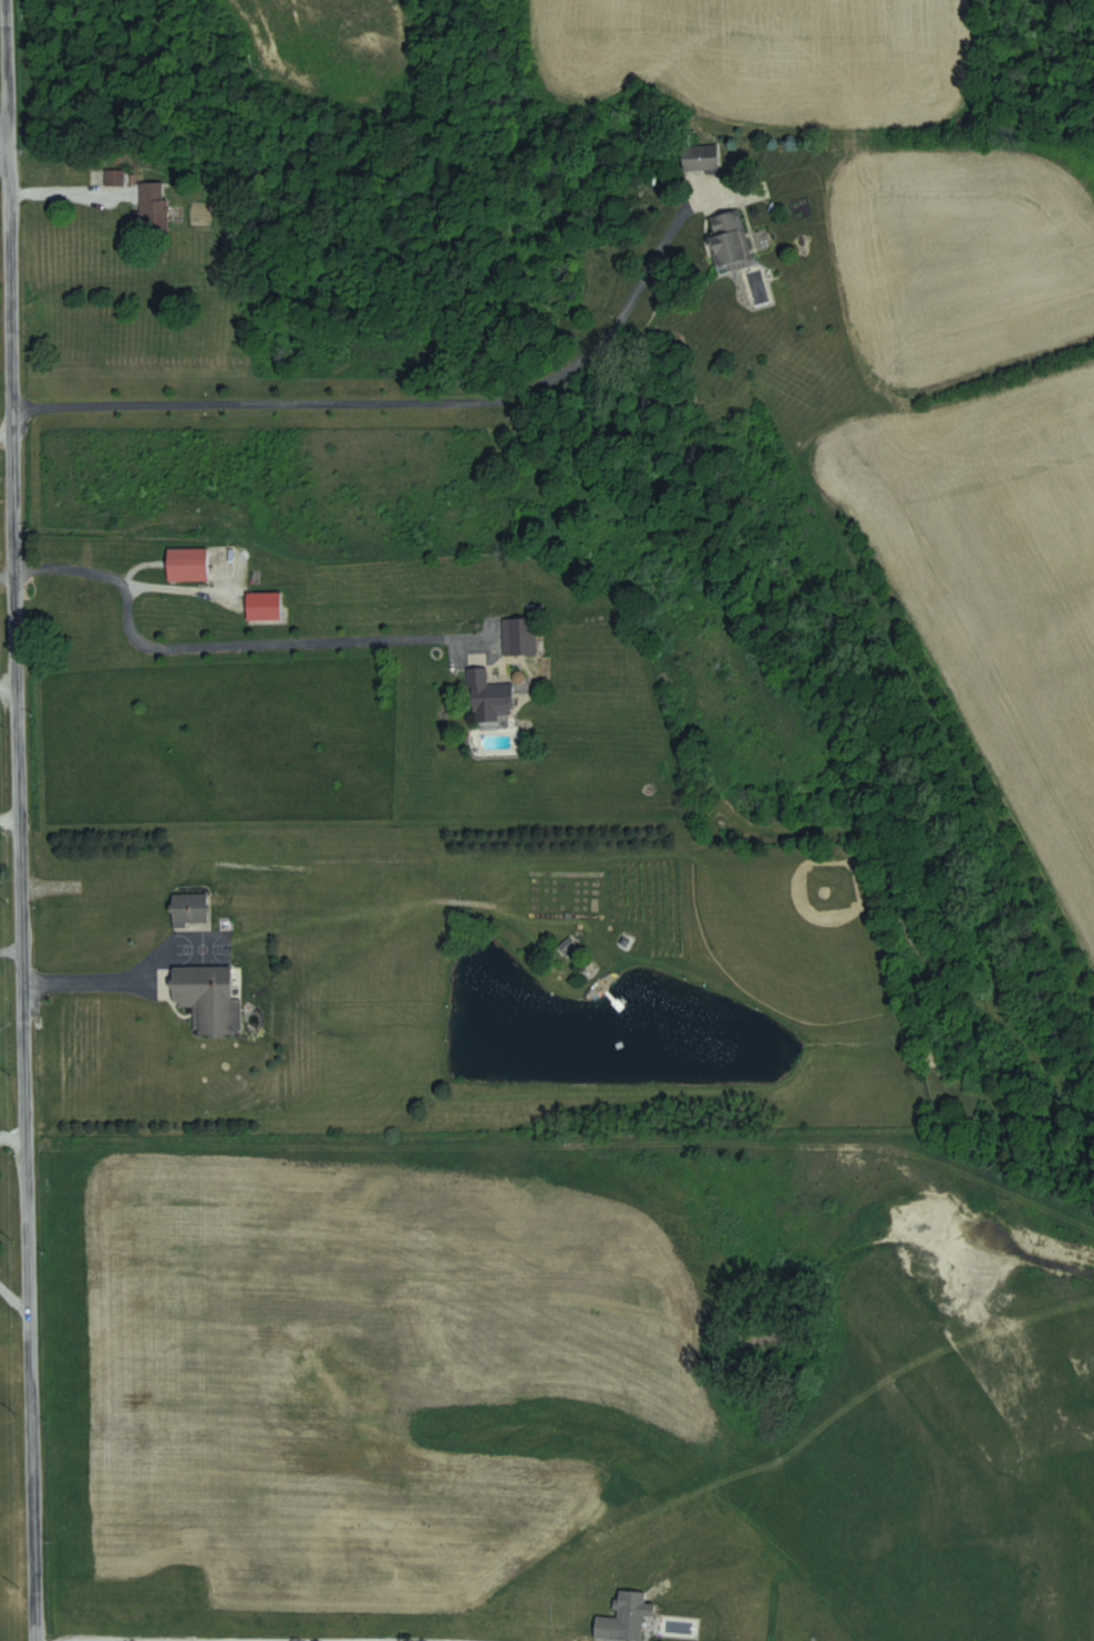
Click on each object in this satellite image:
road: (3, 145)
building: (701, 157)
building: (115, 177)
building: (154, 205)
building: (731, 239)
road: (402, 406)
building: (188, 564)
road: (176, 589)
building: (264, 607)
road: (225, 649)
road: (7, 685)
building: (488, 693)
road: (16, 820)
road: (8, 824)
road: (251, 863)
building: (192, 912)
road: (9, 957)
road: (82, 981)
building: (209, 999)
road: (12, 1137)
road: (13, 1296)
building: (626, 1618)
road: (402, 1640)

